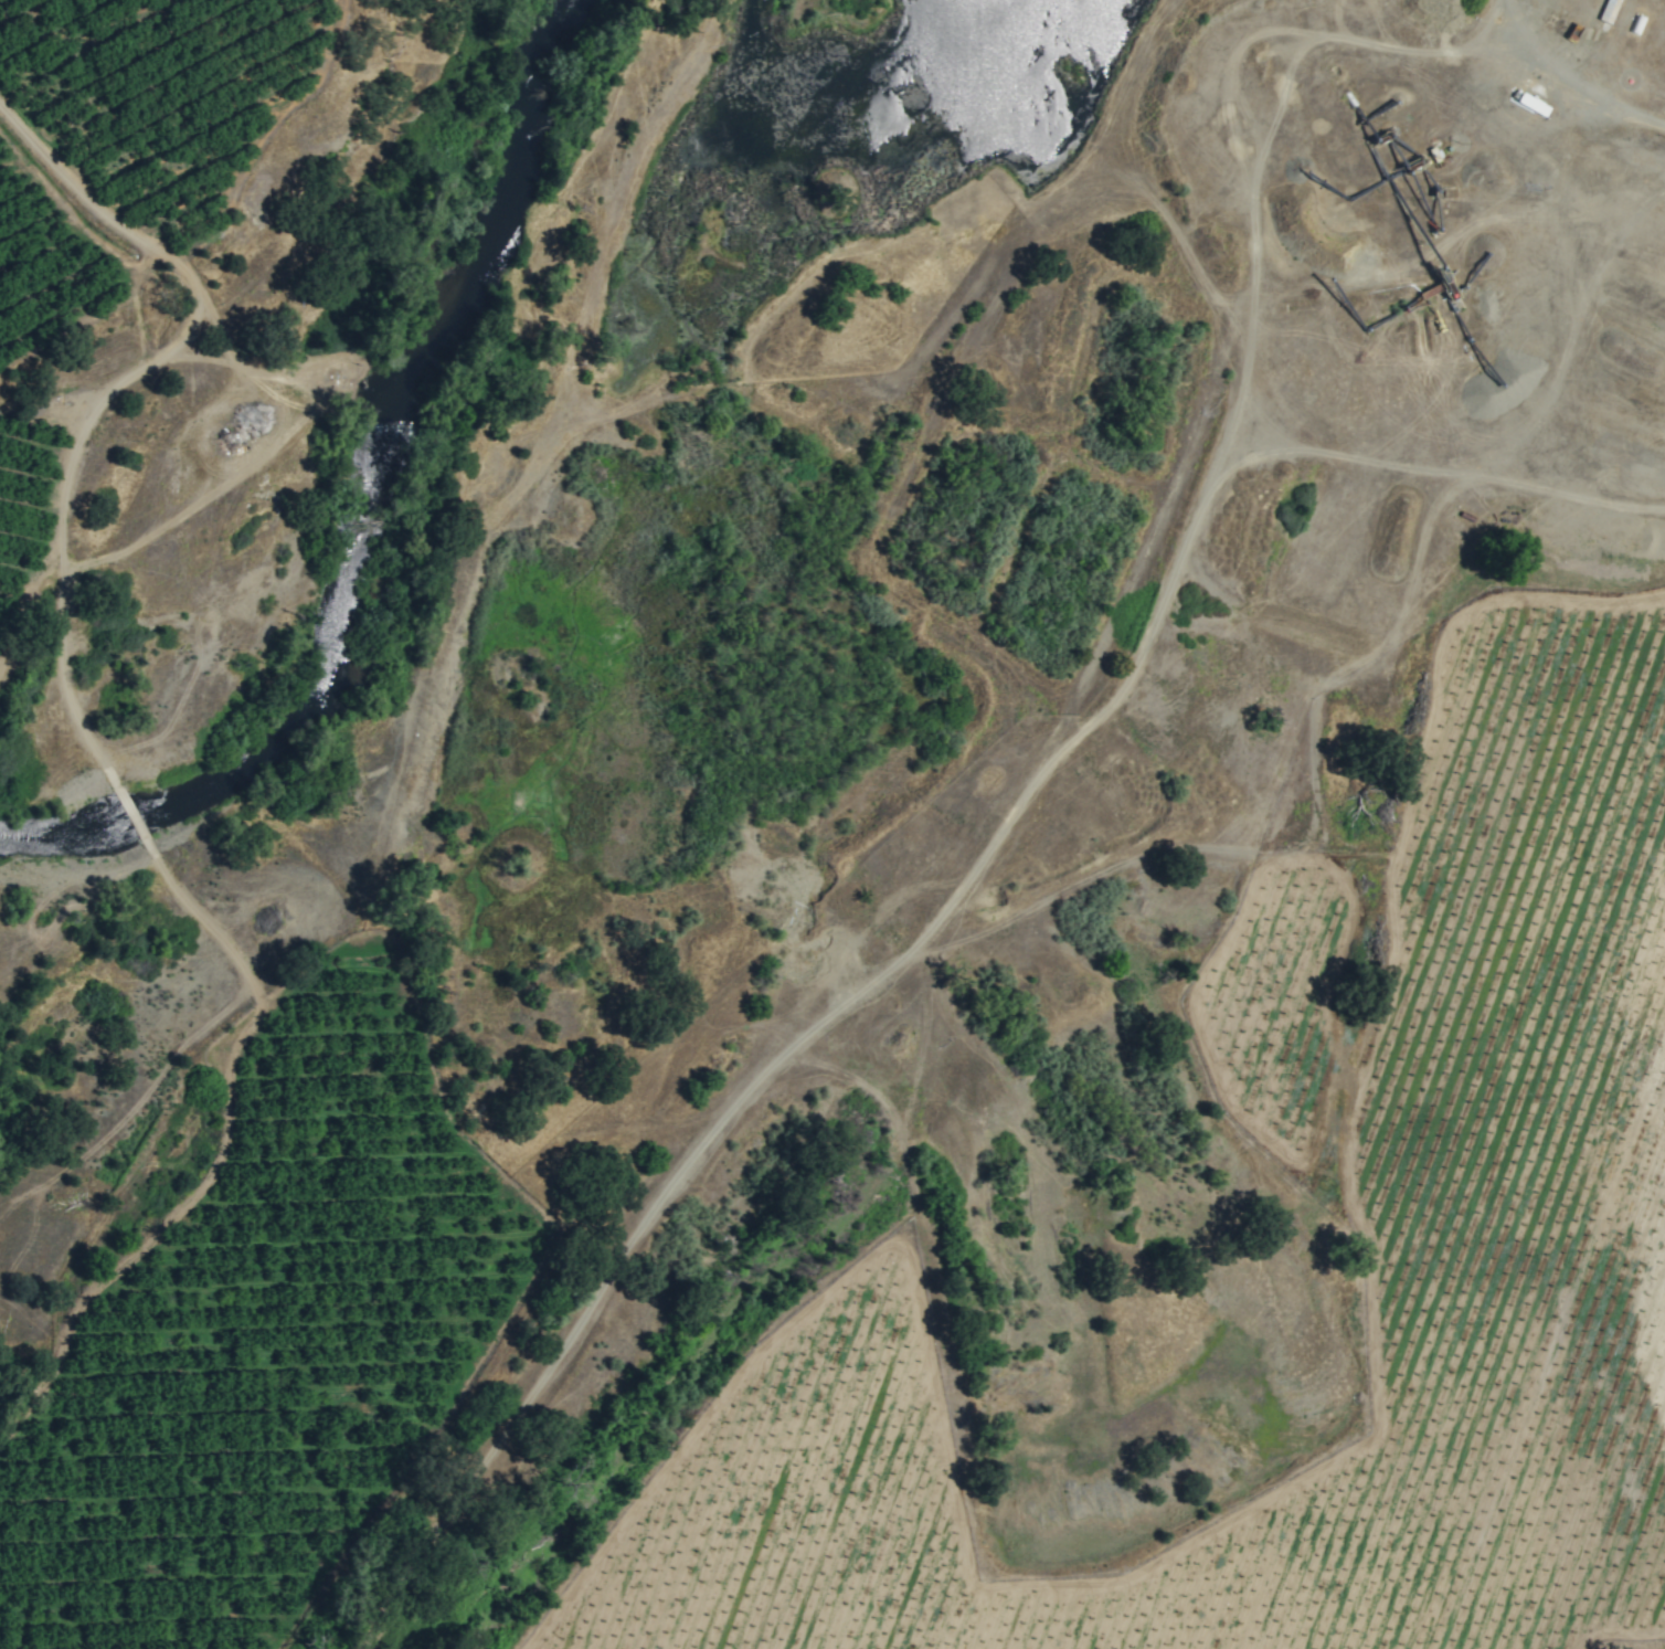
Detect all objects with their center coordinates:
road: (1587, 91)
building: (1533, 106)
crop: (119, 231)
river: (322, 505)
crop: (944, 956)

